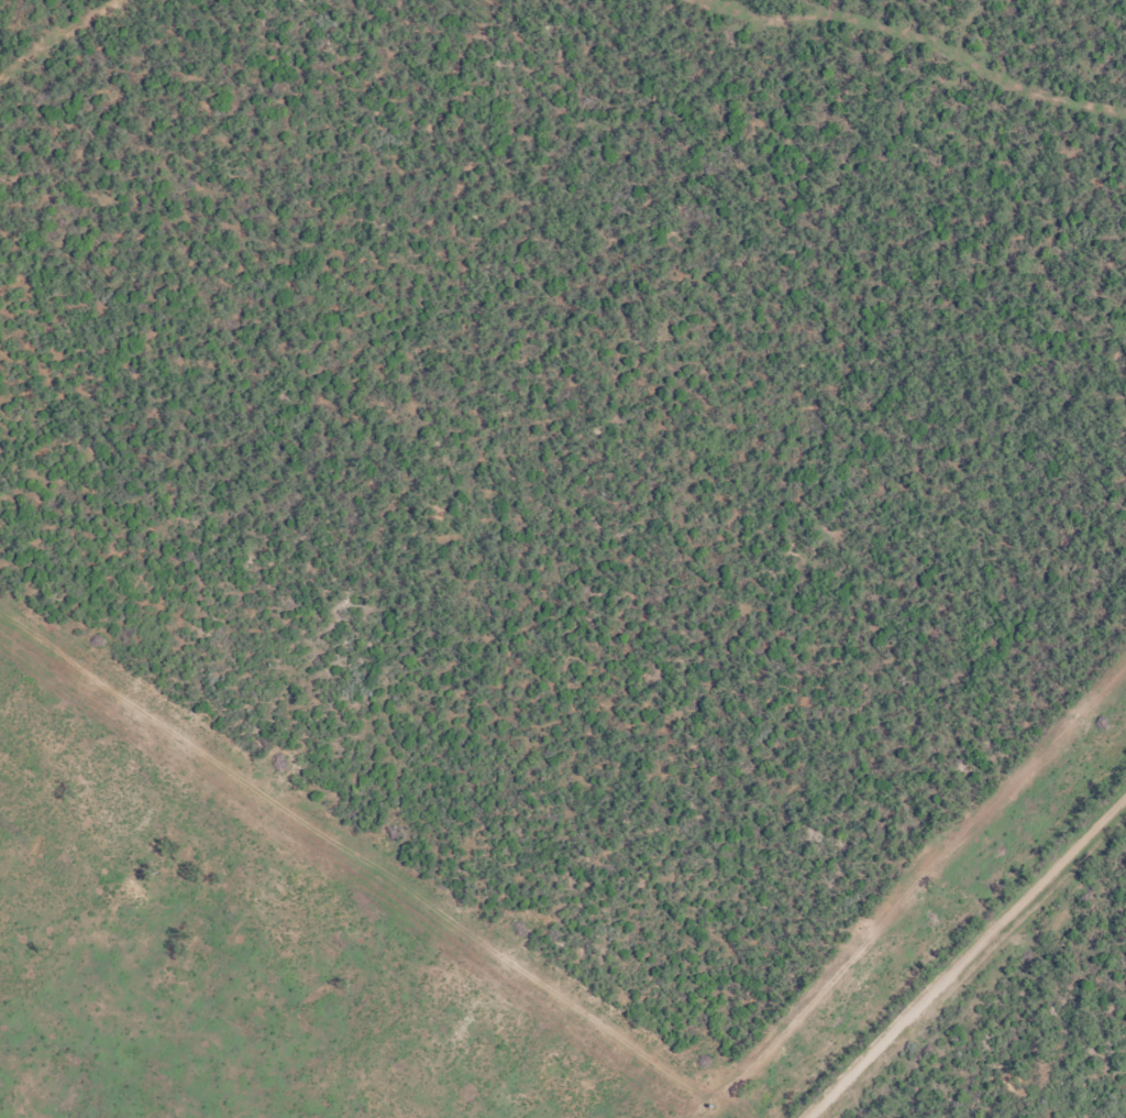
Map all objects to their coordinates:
road: (976, 969)

